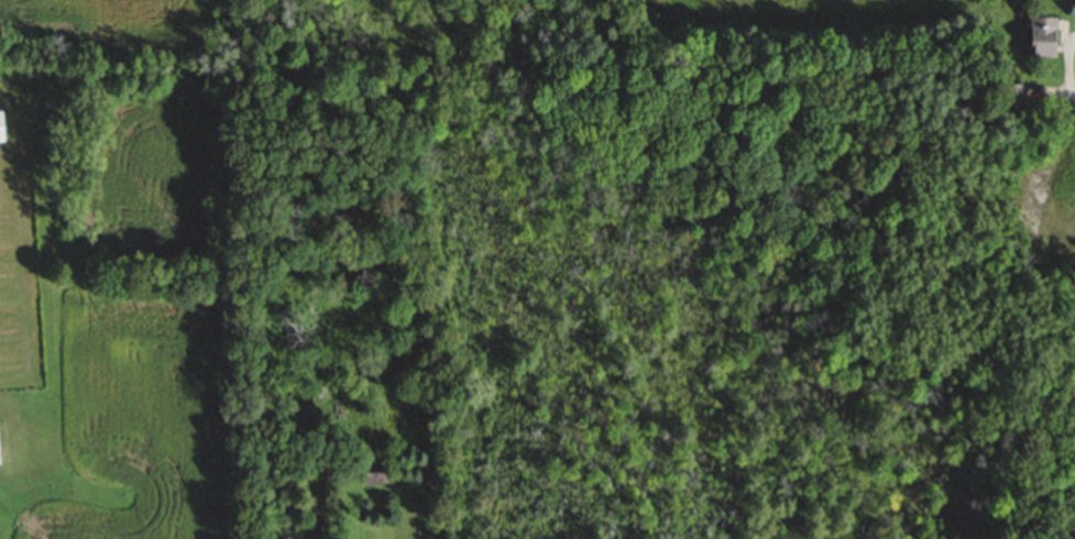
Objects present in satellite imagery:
building: (1040, 36)
building: (1011, 98)
building: (0, 129)
building: (373, 472)

